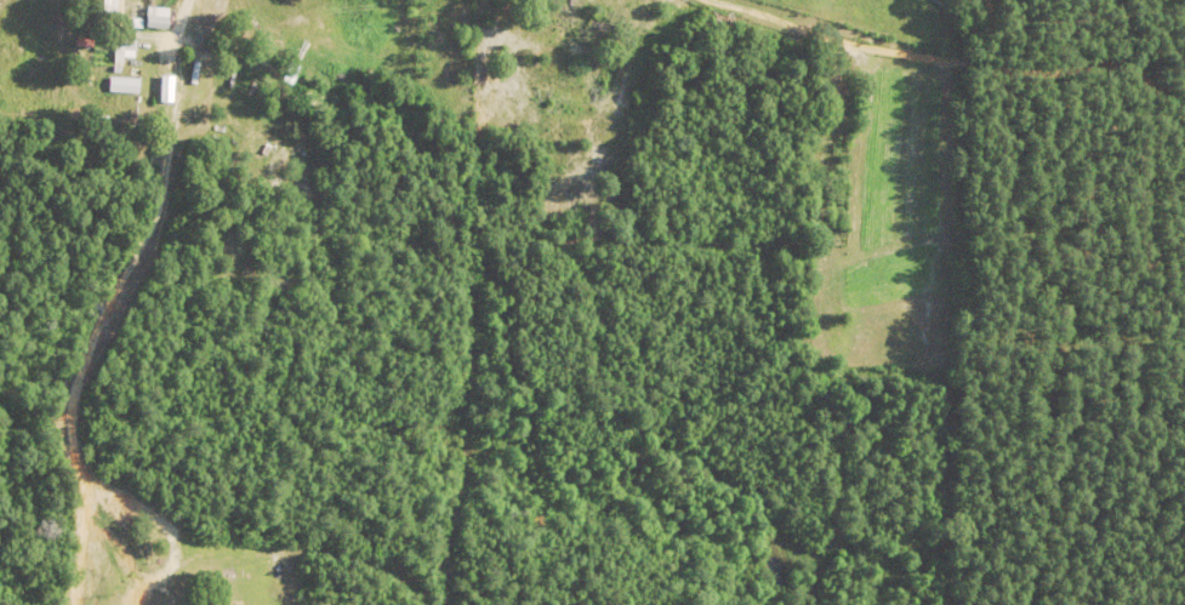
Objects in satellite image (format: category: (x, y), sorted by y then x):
building: (123, 85)
building: (163, 90)
road: (142, 244)
road: (167, 524)
road: (80, 542)

